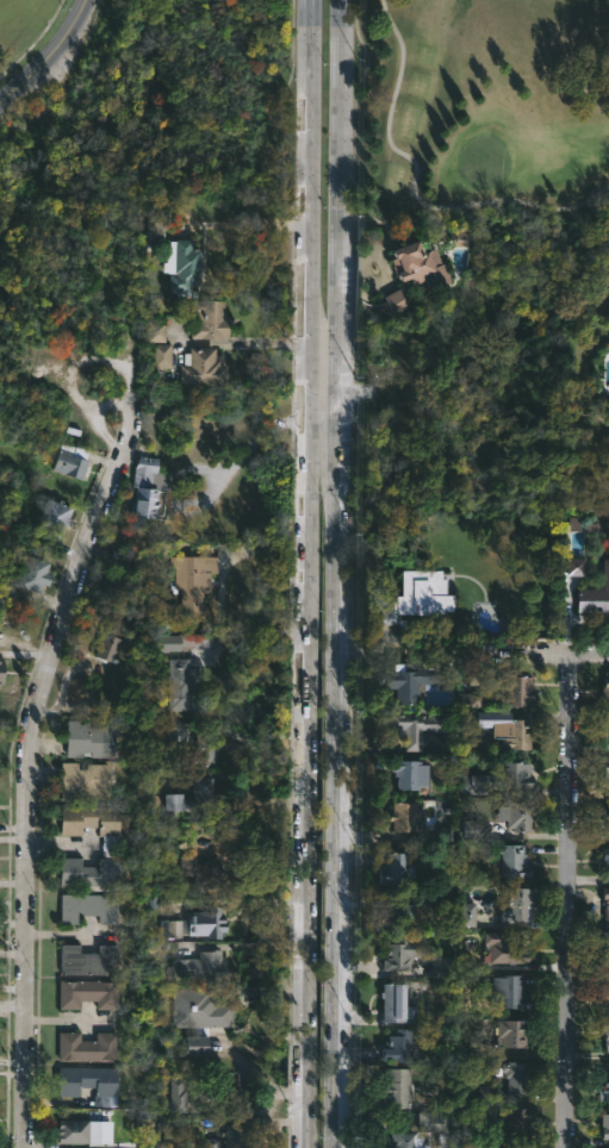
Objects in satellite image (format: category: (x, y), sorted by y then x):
road: (46, 54)
park: (480, 105)
park: (141, 111)
park: (483, 161)
road: (414, 192)
building: (422, 263)
building: (184, 267)
building: (211, 319)
road: (242, 342)
building: (162, 361)
building: (201, 367)
building: (45, 372)
road: (322, 399)
building: (72, 460)
road: (212, 487)
building: (148, 493)
building: (56, 522)
building: (33, 573)
road: (305, 573)
road: (334, 573)
building: (193, 579)
building: (596, 598)
building: (411, 601)
building: (107, 644)
road: (360, 649)
road: (533, 651)
building: (410, 681)
building: (182, 687)
building: (605, 687)
building: (520, 690)
building: (417, 725)
building: (605, 731)
building: (516, 732)
building: (88, 738)
building: (206, 748)
building: (607, 770)
building: (411, 773)
building: (518, 774)
building: (83, 779)
road: (36, 791)
building: (195, 796)
building: (521, 815)
building: (403, 816)
building: (604, 817)
building: (95, 819)
building: (476, 829)
building: (607, 856)
building: (514, 862)
building: (398, 865)
building: (94, 872)
building: (211, 875)
road: (571, 899)
building: (517, 903)
building: (605, 903)
building: (92, 907)
building: (398, 912)
building: (210, 923)
building: (178, 929)
building: (504, 948)
building: (605, 948)
building: (399, 953)
building: (91, 961)
building: (203, 966)
building: (511, 991)
building: (89, 993)
building: (605, 994)
building: (394, 1003)
building: (200, 1009)
building: (514, 1032)
building: (608, 1035)
building: (400, 1046)
building: (89, 1047)
building: (199, 1049)
road: (255, 1073)
building: (516, 1075)
building: (607, 1086)
building: (69, 1087)
building: (398, 1088)
building: (181, 1098)
building: (516, 1119)
building: (433, 1121)
building: (604, 1124)
building: (74, 1131)
building: (237, 1136)
building: (411, 1140)

